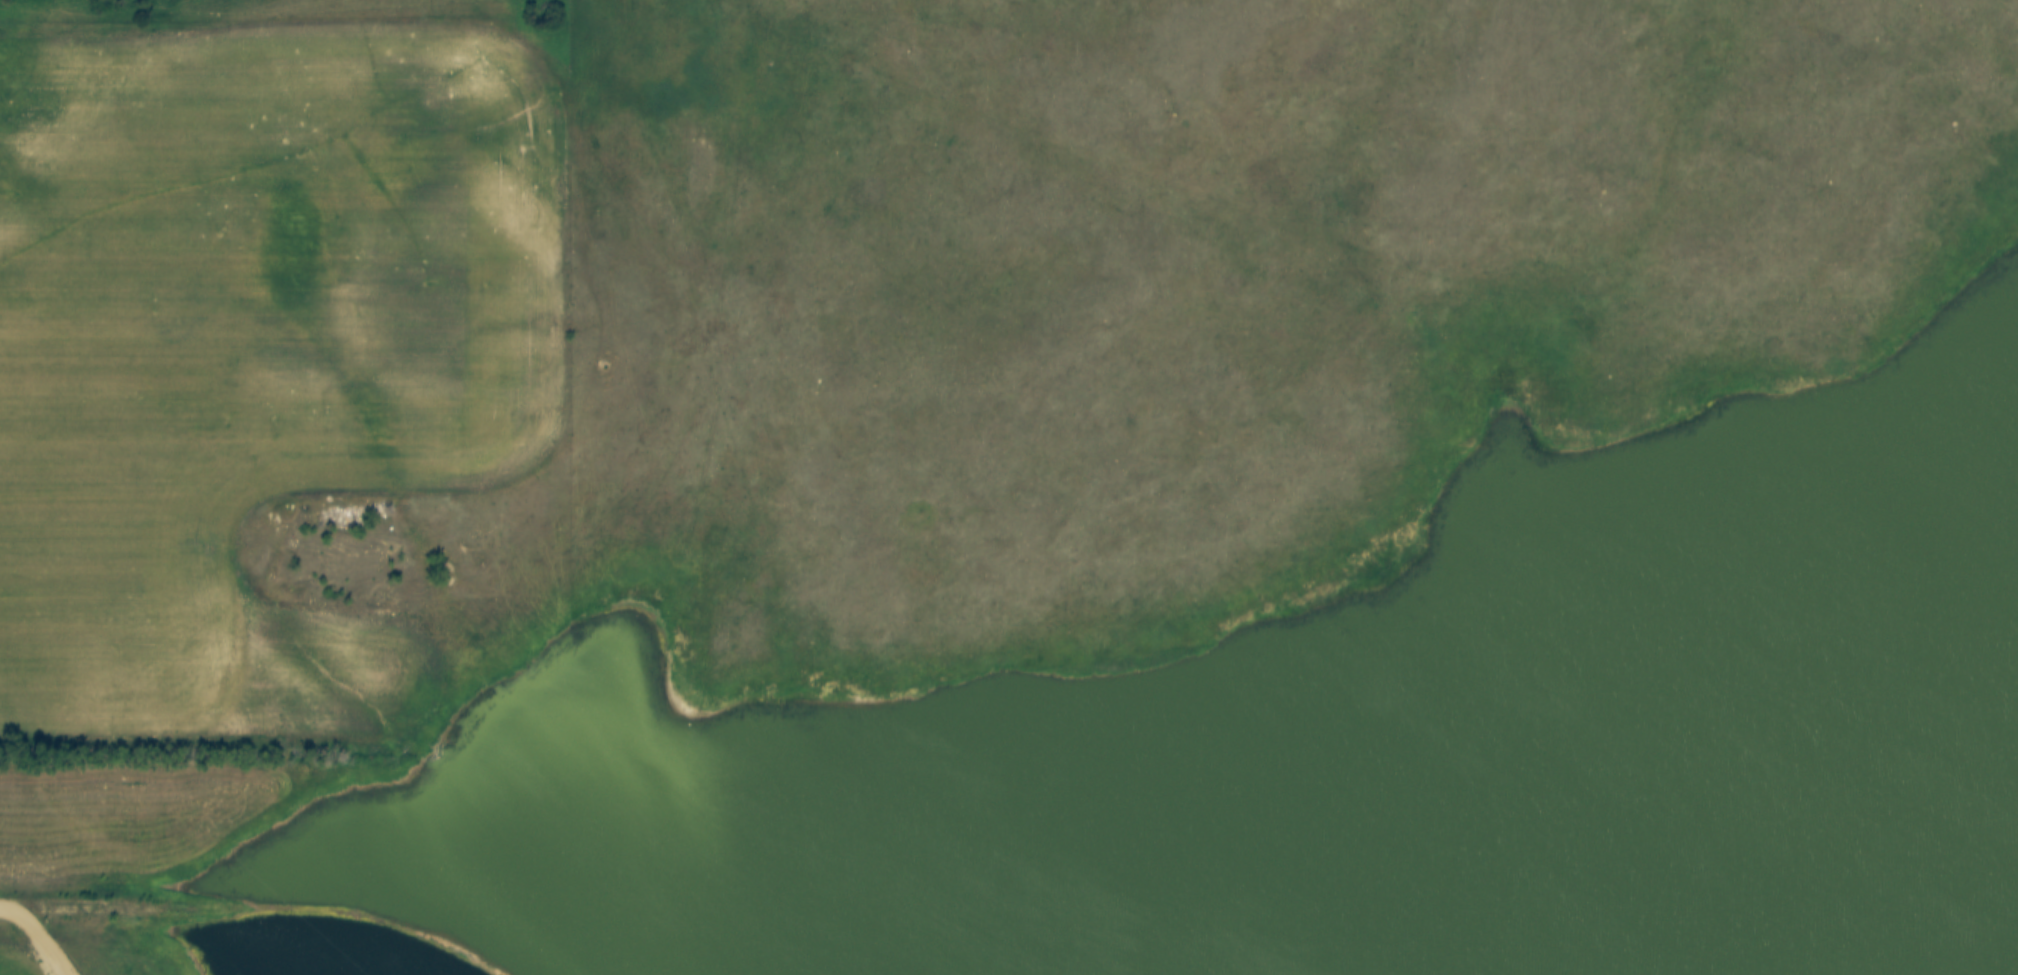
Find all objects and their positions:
road: (4, 908)
road: (29, 942)

